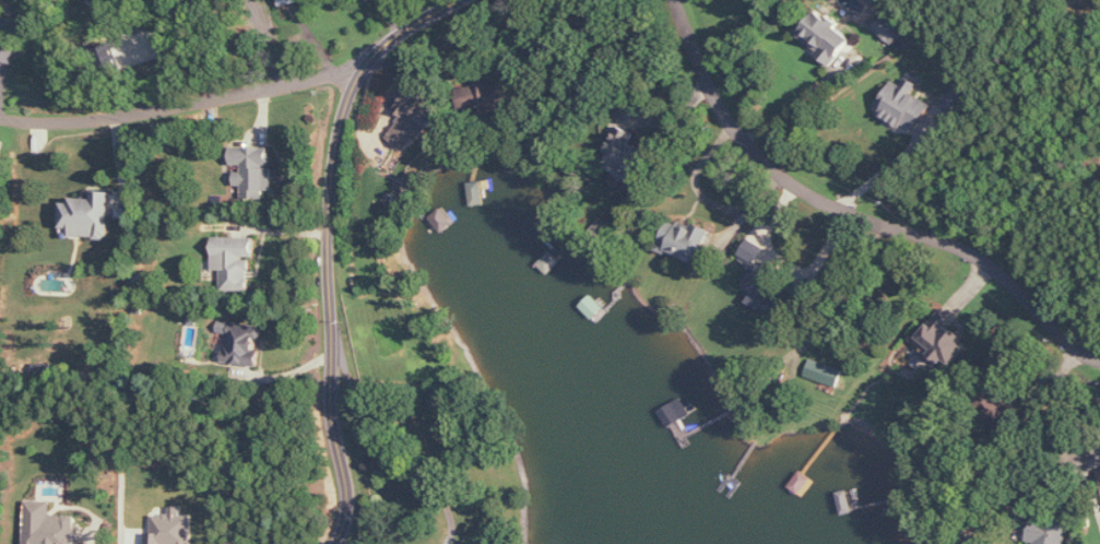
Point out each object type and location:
building: (118, 8)
road: (394, 16)
building: (889, 29)
building: (825, 36)
building: (9, 38)
road: (263, 40)
road: (239, 91)
building: (904, 105)
road: (784, 109)
building: (412, 120)
road: (23, 144)
building: (628, 154)
building: (255, 170)
building: (90, 215)
road: (856, 215)
building: (442, 220)
building: (685, 241)
building: (752, 251)
building: (235, 262)
road: (855, 287)
building: (762, 291)
road: (327, 301)
building: (945, 339)
building: (825, 372)
road: (1060, 452)
building: (49, 524)
building: (173, 528)
building: (1048, 530)

